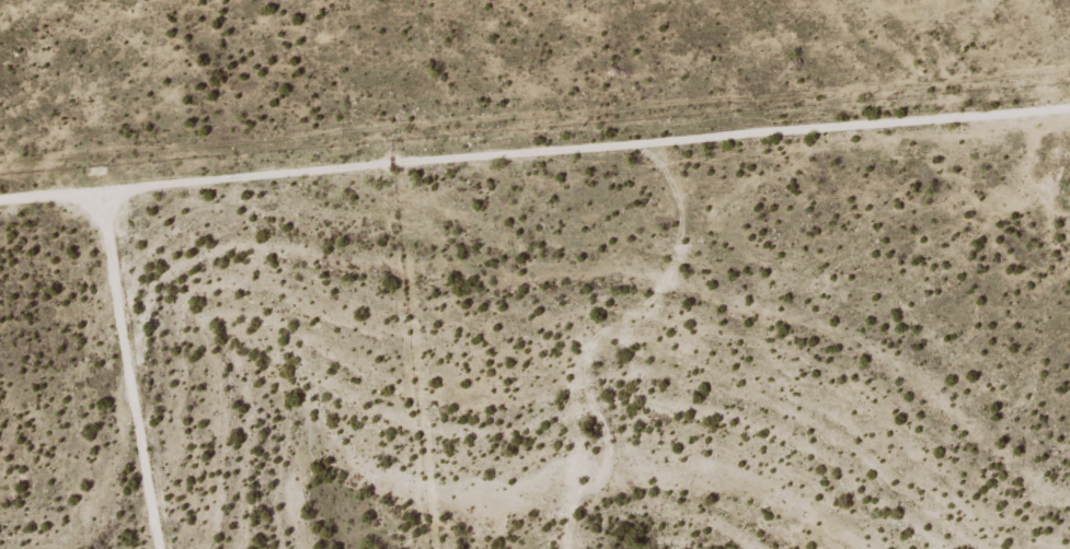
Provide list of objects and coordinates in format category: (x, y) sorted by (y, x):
road: (536, 104)
road: (626, 328)

